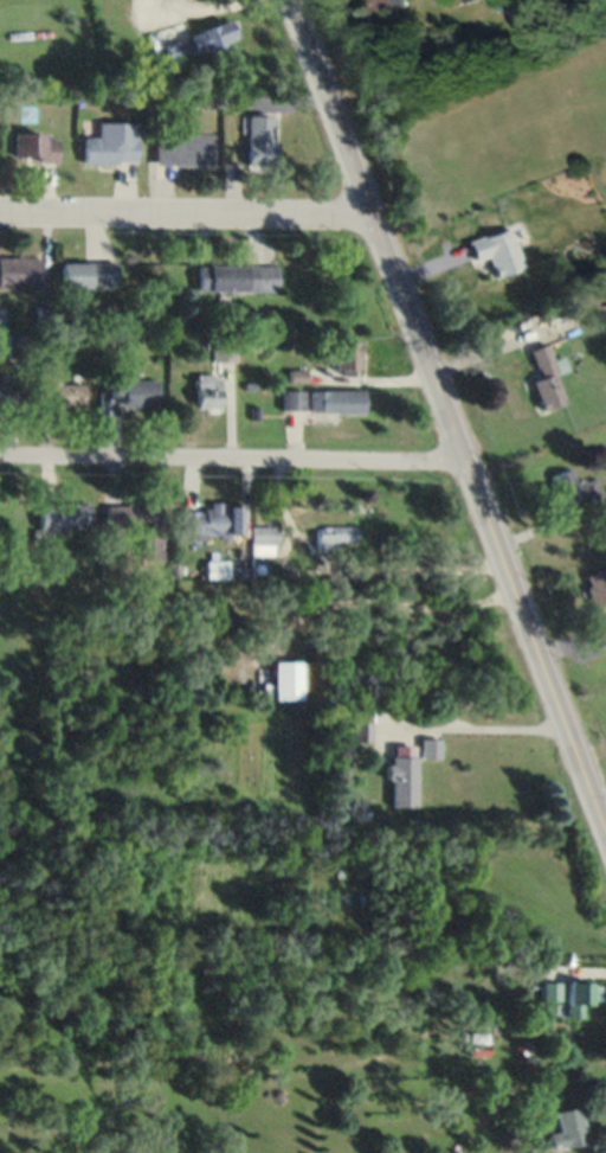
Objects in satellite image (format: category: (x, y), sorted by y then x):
building: (469, 0)
building: (392, 5)
building: (198, 40)
building: (262, 140)
building: (110, 143)
building: (34, 146)
building: (182, 148)
road: (186, 223)
building: (496, 251)
building: (20, 271)
building: (88, 273)
building: (237, 277)
building: (65, 341)
building: (15, 344)
building: (221, 347)
building: (347, 353)
building: (544, 379)
building: (59, 385)
building: (206, 390)
building: (137, 391)
building: (7, 393)
building: (290, 398)
building: (336, 399)
road: (446, 422)
road: (231, 463)
building: (572, 489)
building: (63, 514)
building: (213, 518)
building: (137, 523)
building: (334, 534)
building: (263, 539)
building: (599, 596)
building: (289, 679)
building: (361, 725)
building: (408, 769)
building: (549, 991)
building: (578, 997)
building: (475, 1044)
building: (567, 1128)

